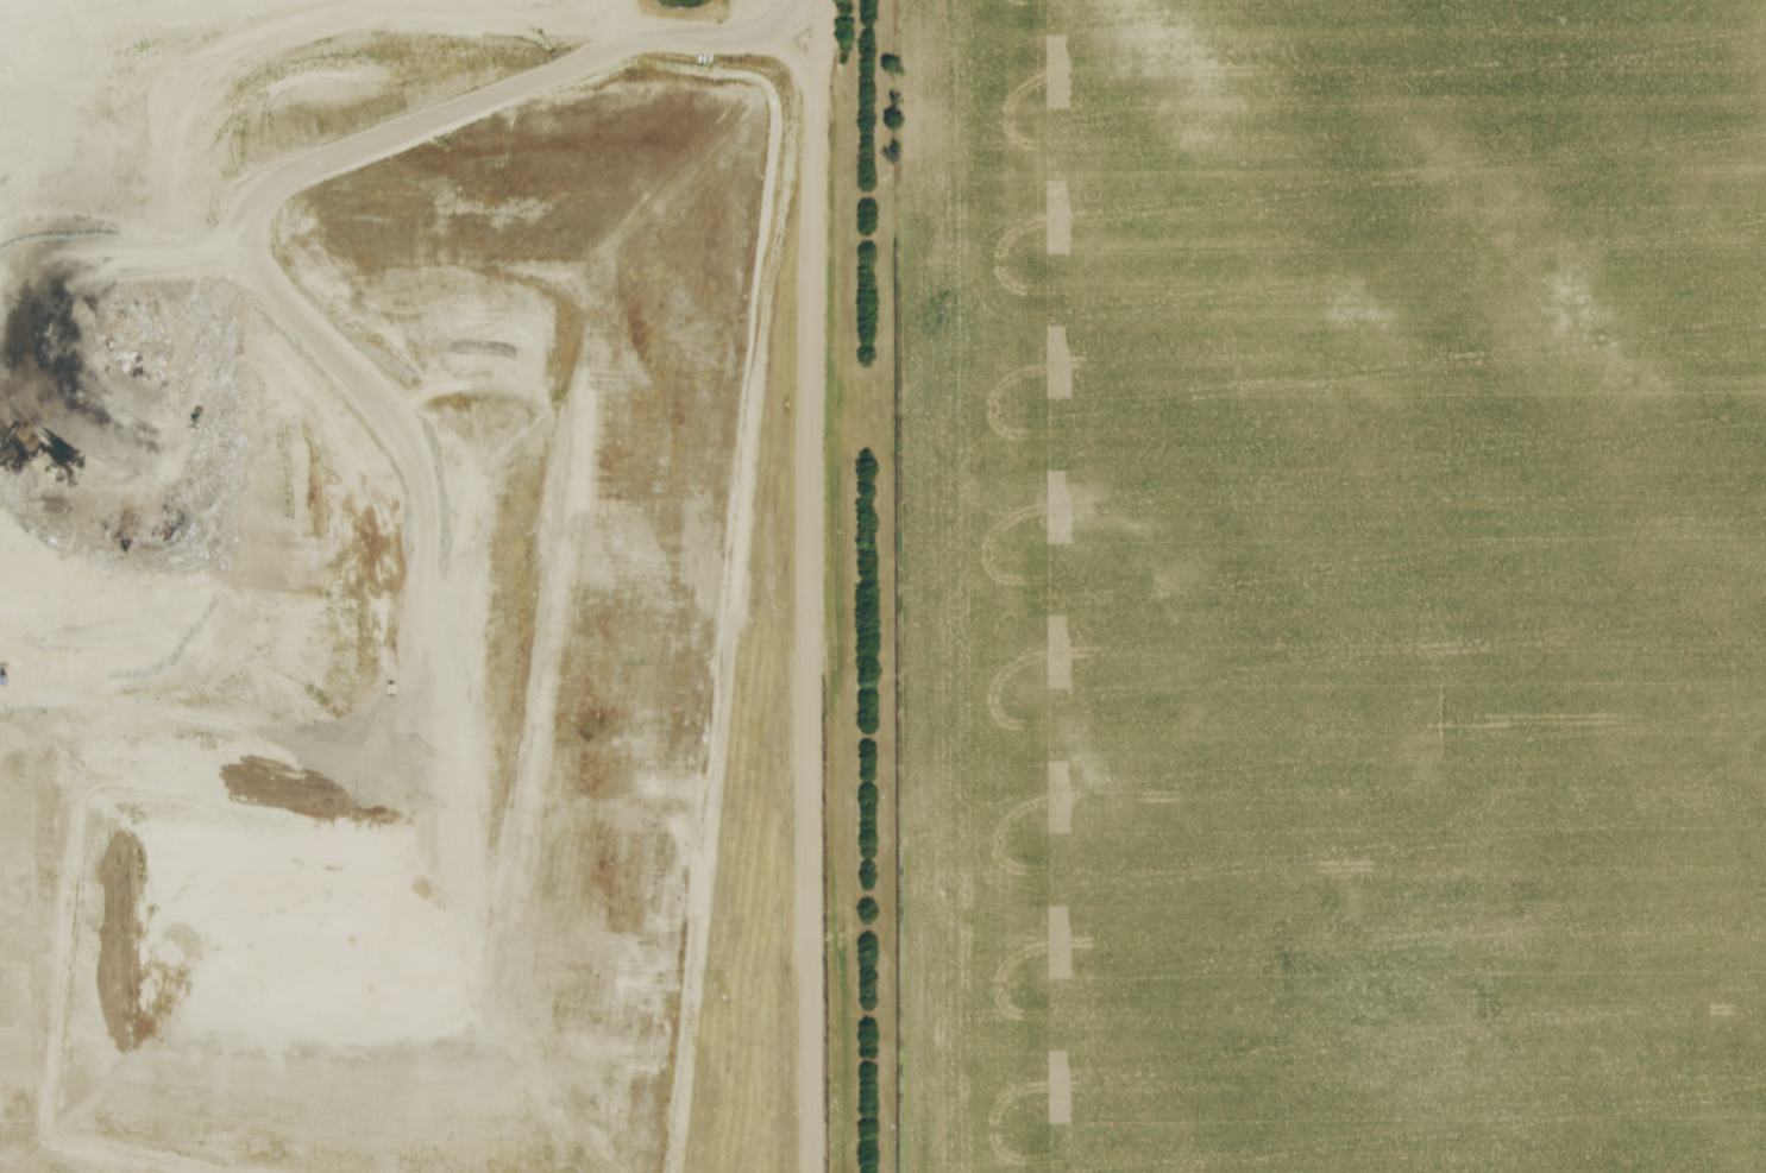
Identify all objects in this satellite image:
road: (538, 14)
crop: (1334, 585)
road: (817, 586)

